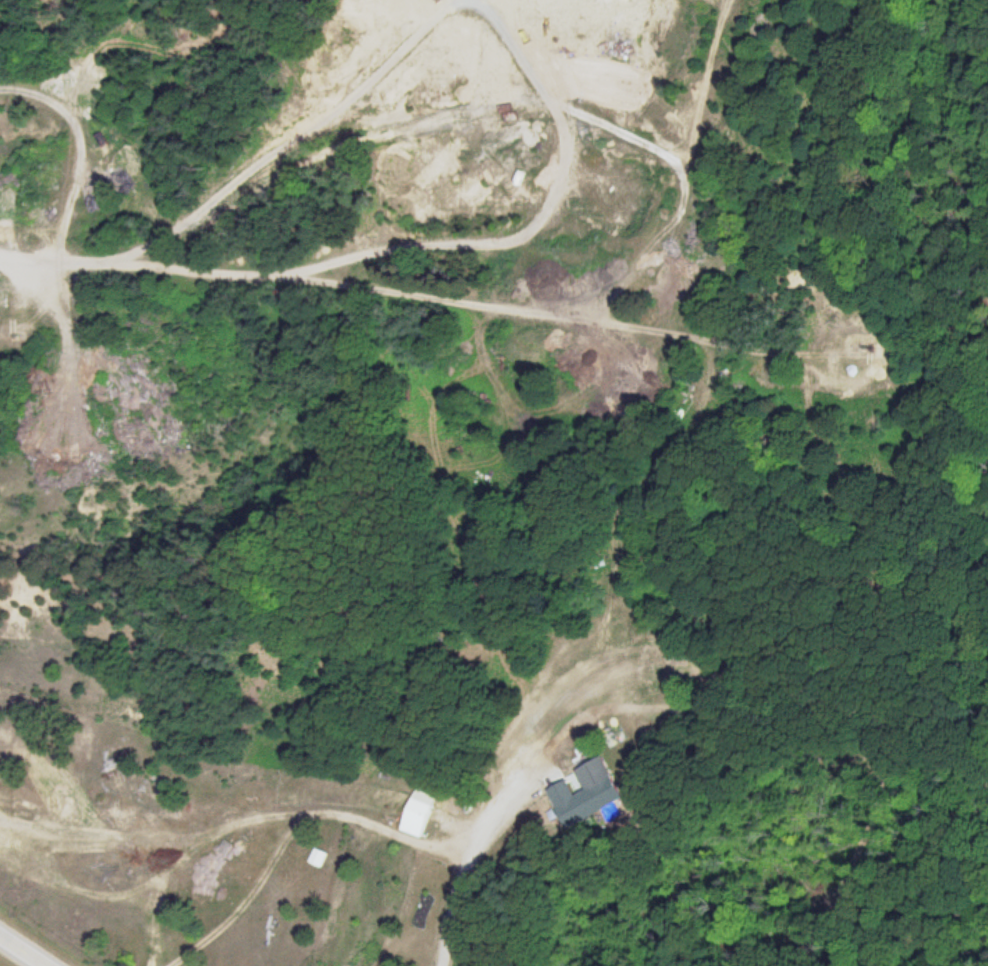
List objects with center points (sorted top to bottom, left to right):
building: (664, 250)
building: (674, 668)
building: (595, 790)
building: (418, 817)
road: (23, 950)

